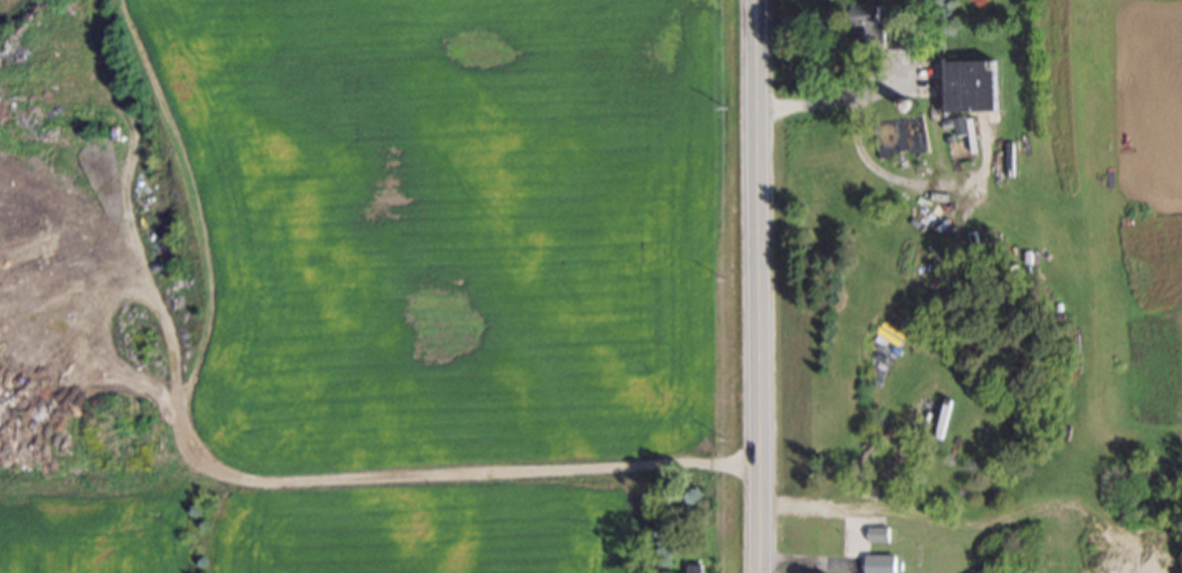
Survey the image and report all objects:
building: (866, 24)
building: (975, 86)
road: (832, 93)
road: (748, 286)
building: (876, 534)
building: (879, 563)
building: (692, 568)

